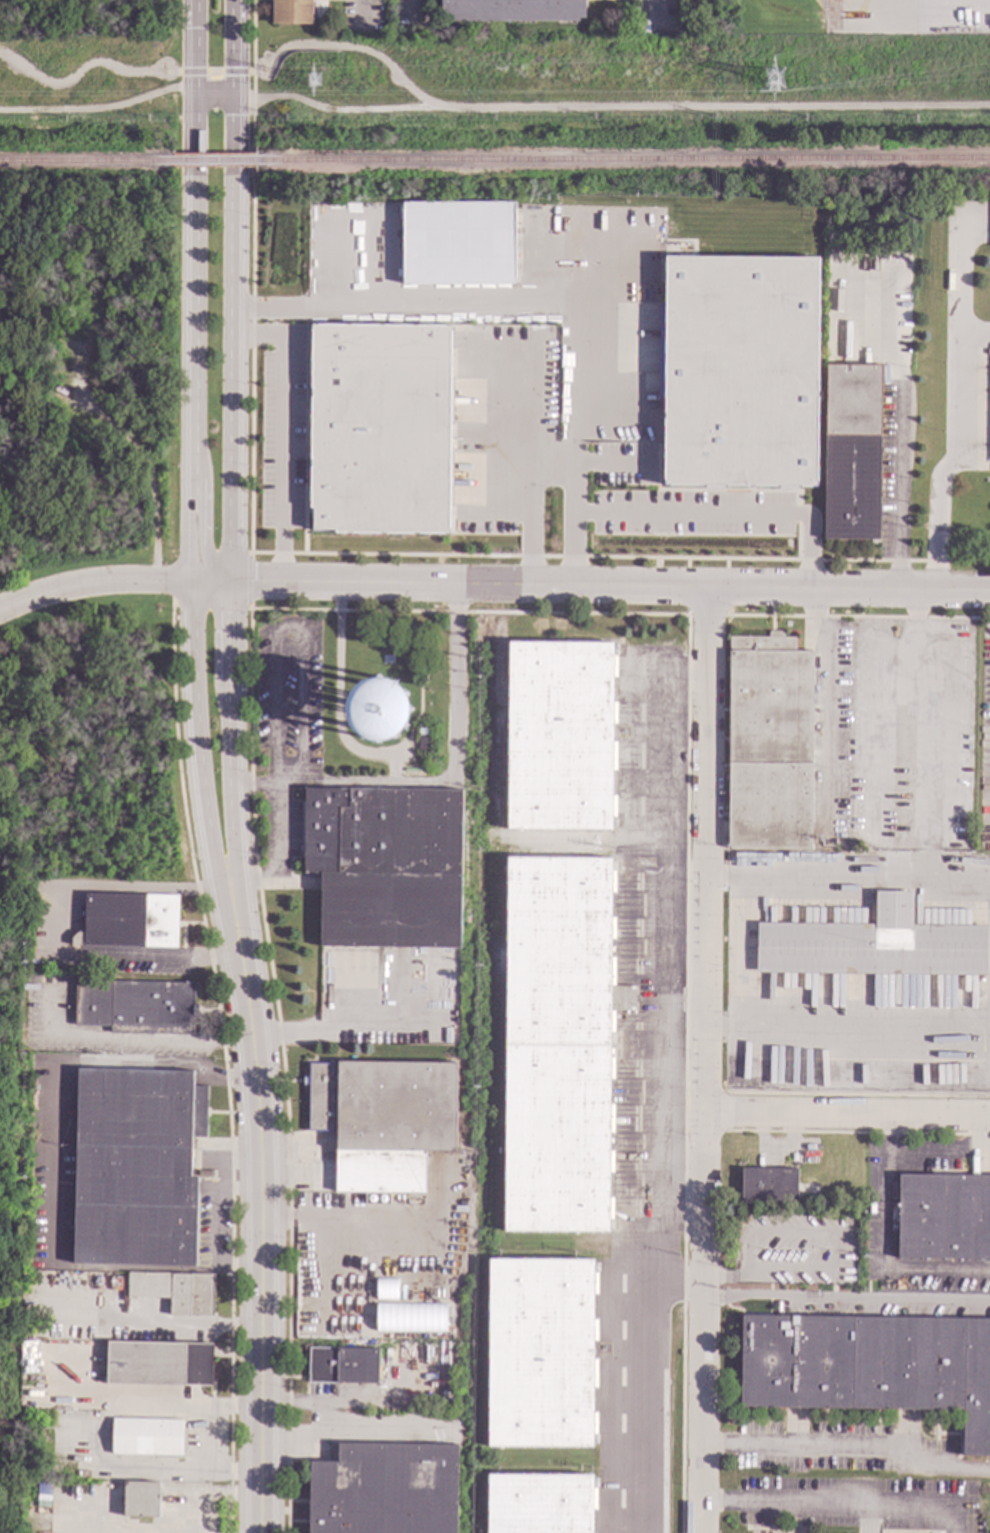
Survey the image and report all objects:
road: (853, 4)
road: (652, 8)
building: (512, 10)
road: (360, 11)
building: (291, 12)
park: (89, 19)
road: (194, 44)
road: (328, 46)
road: (230, 48)
road: (161, 61)
road: (261, 62)
road: (265, 67)
road: (160, 70)
road: (215, 72)
road: (269, 76)
road: (71, 77)
road: (160, 77)
power tower: (315, 81)
power tower: (774, 81)
road: (412, 88)
road: (150, 94)
road: (319, 107)
road: (718, 107)
road: (54, 111)
railway: (623, 160)
railway: (214, 161)
railway: (86, 162)
building: (456, 242)
building: (880, 274)
road: (508, 305)
road: (974, 334)
building: (739, 371)
road: (956, 406)
road: (528, 422)
building: (378, 429)
road: (283, 432)
road: (899, 447)
building: (852, 453)
road: (527, 501)
road: (691, 516)
road: (193, 523)
road: (227, 525)
road: (94, 582)
road: (591, 587)
park: (79, 617)
building: (422, 675)
road: (823, 697)
road: (916, 701)
water tower: (377, 710)
building: (377, 711)
building: (421, 731)
building: (559, 736)
building: (422, 743)
building: (769, 744)
road: (437, 782)
road: (279, 857)
building: (385, 866)
road: (849, 879)
building: (128, 921)
road: (55, 931)
building: (872, 945)
building: (135, 1006)
road: (848, 1026)
road: (129, 1038)
building: (558, 1044)
road: (706, 1060)
road: (847, 1120)
building: (383, 1121)
road: (987, 1139)
road: (923, 1157)
building: (136, 1167)
building: (768, 1186)
building: (943, 1217)
road: (253, 1242)
road: (888, 1259)
building: (385, 1289)
building: (176, 1291)
road: (847, 1302)
building: (410, 1318)
road: (180, 1327)
building: (540, 1353)
building: (159, 1364)
building: (343, 1366)
building: (870, 1367)
road: (365, 1402)
road: (294, 1403)
building: (41, 1426)
building: (147, 1437)
road: (850, 1447)
building: (600, 1475)
building: (43, 1489)
building: (384, 1490)
road: (210, 1493)
building: (140, 1499)
building: (539, 1503)
road: (839, 1508)

